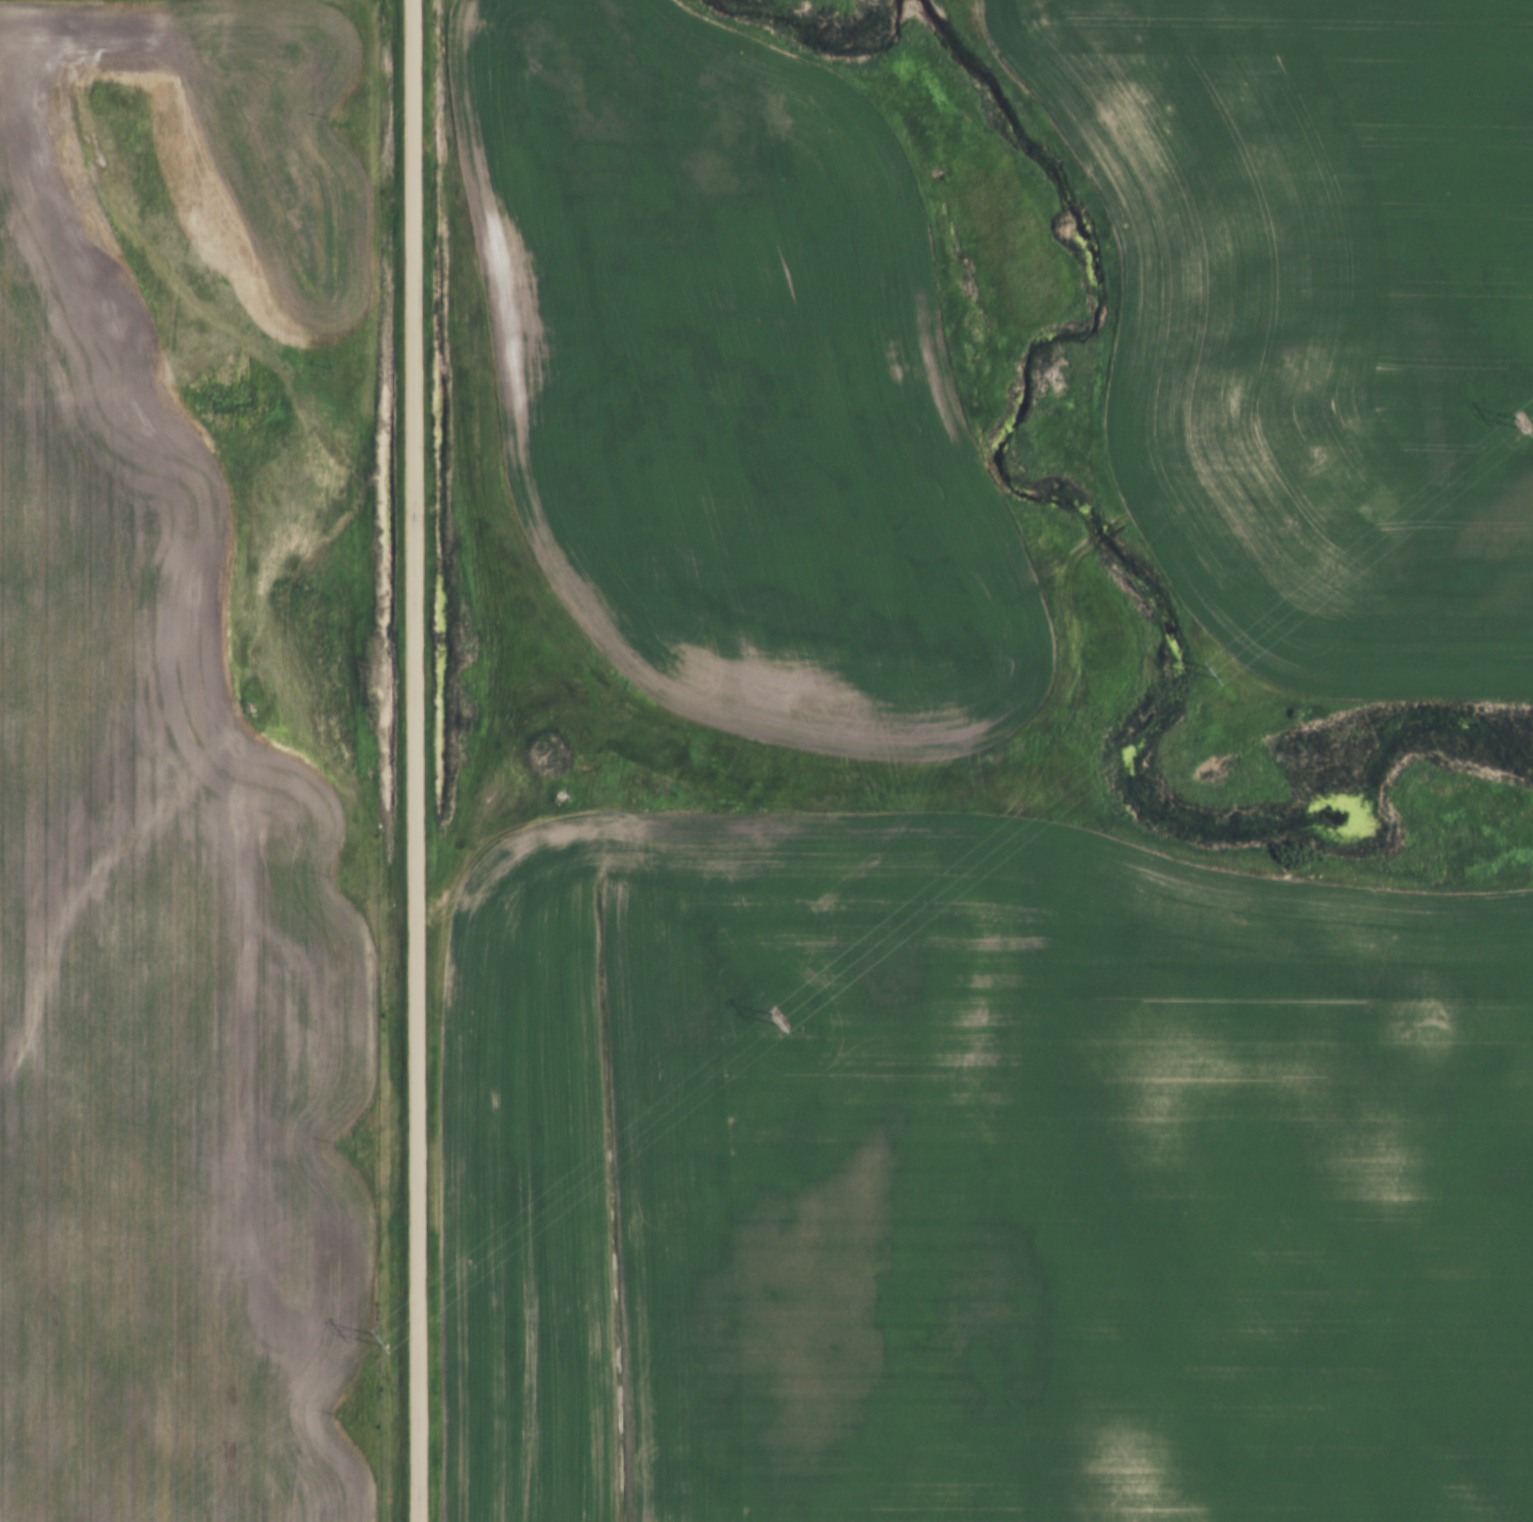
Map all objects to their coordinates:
power tower: (1523, 425)
power tower: (1211, 675)
road: (413, 761)
power tower: (779, 1023)
power tower: (381, 1341)

